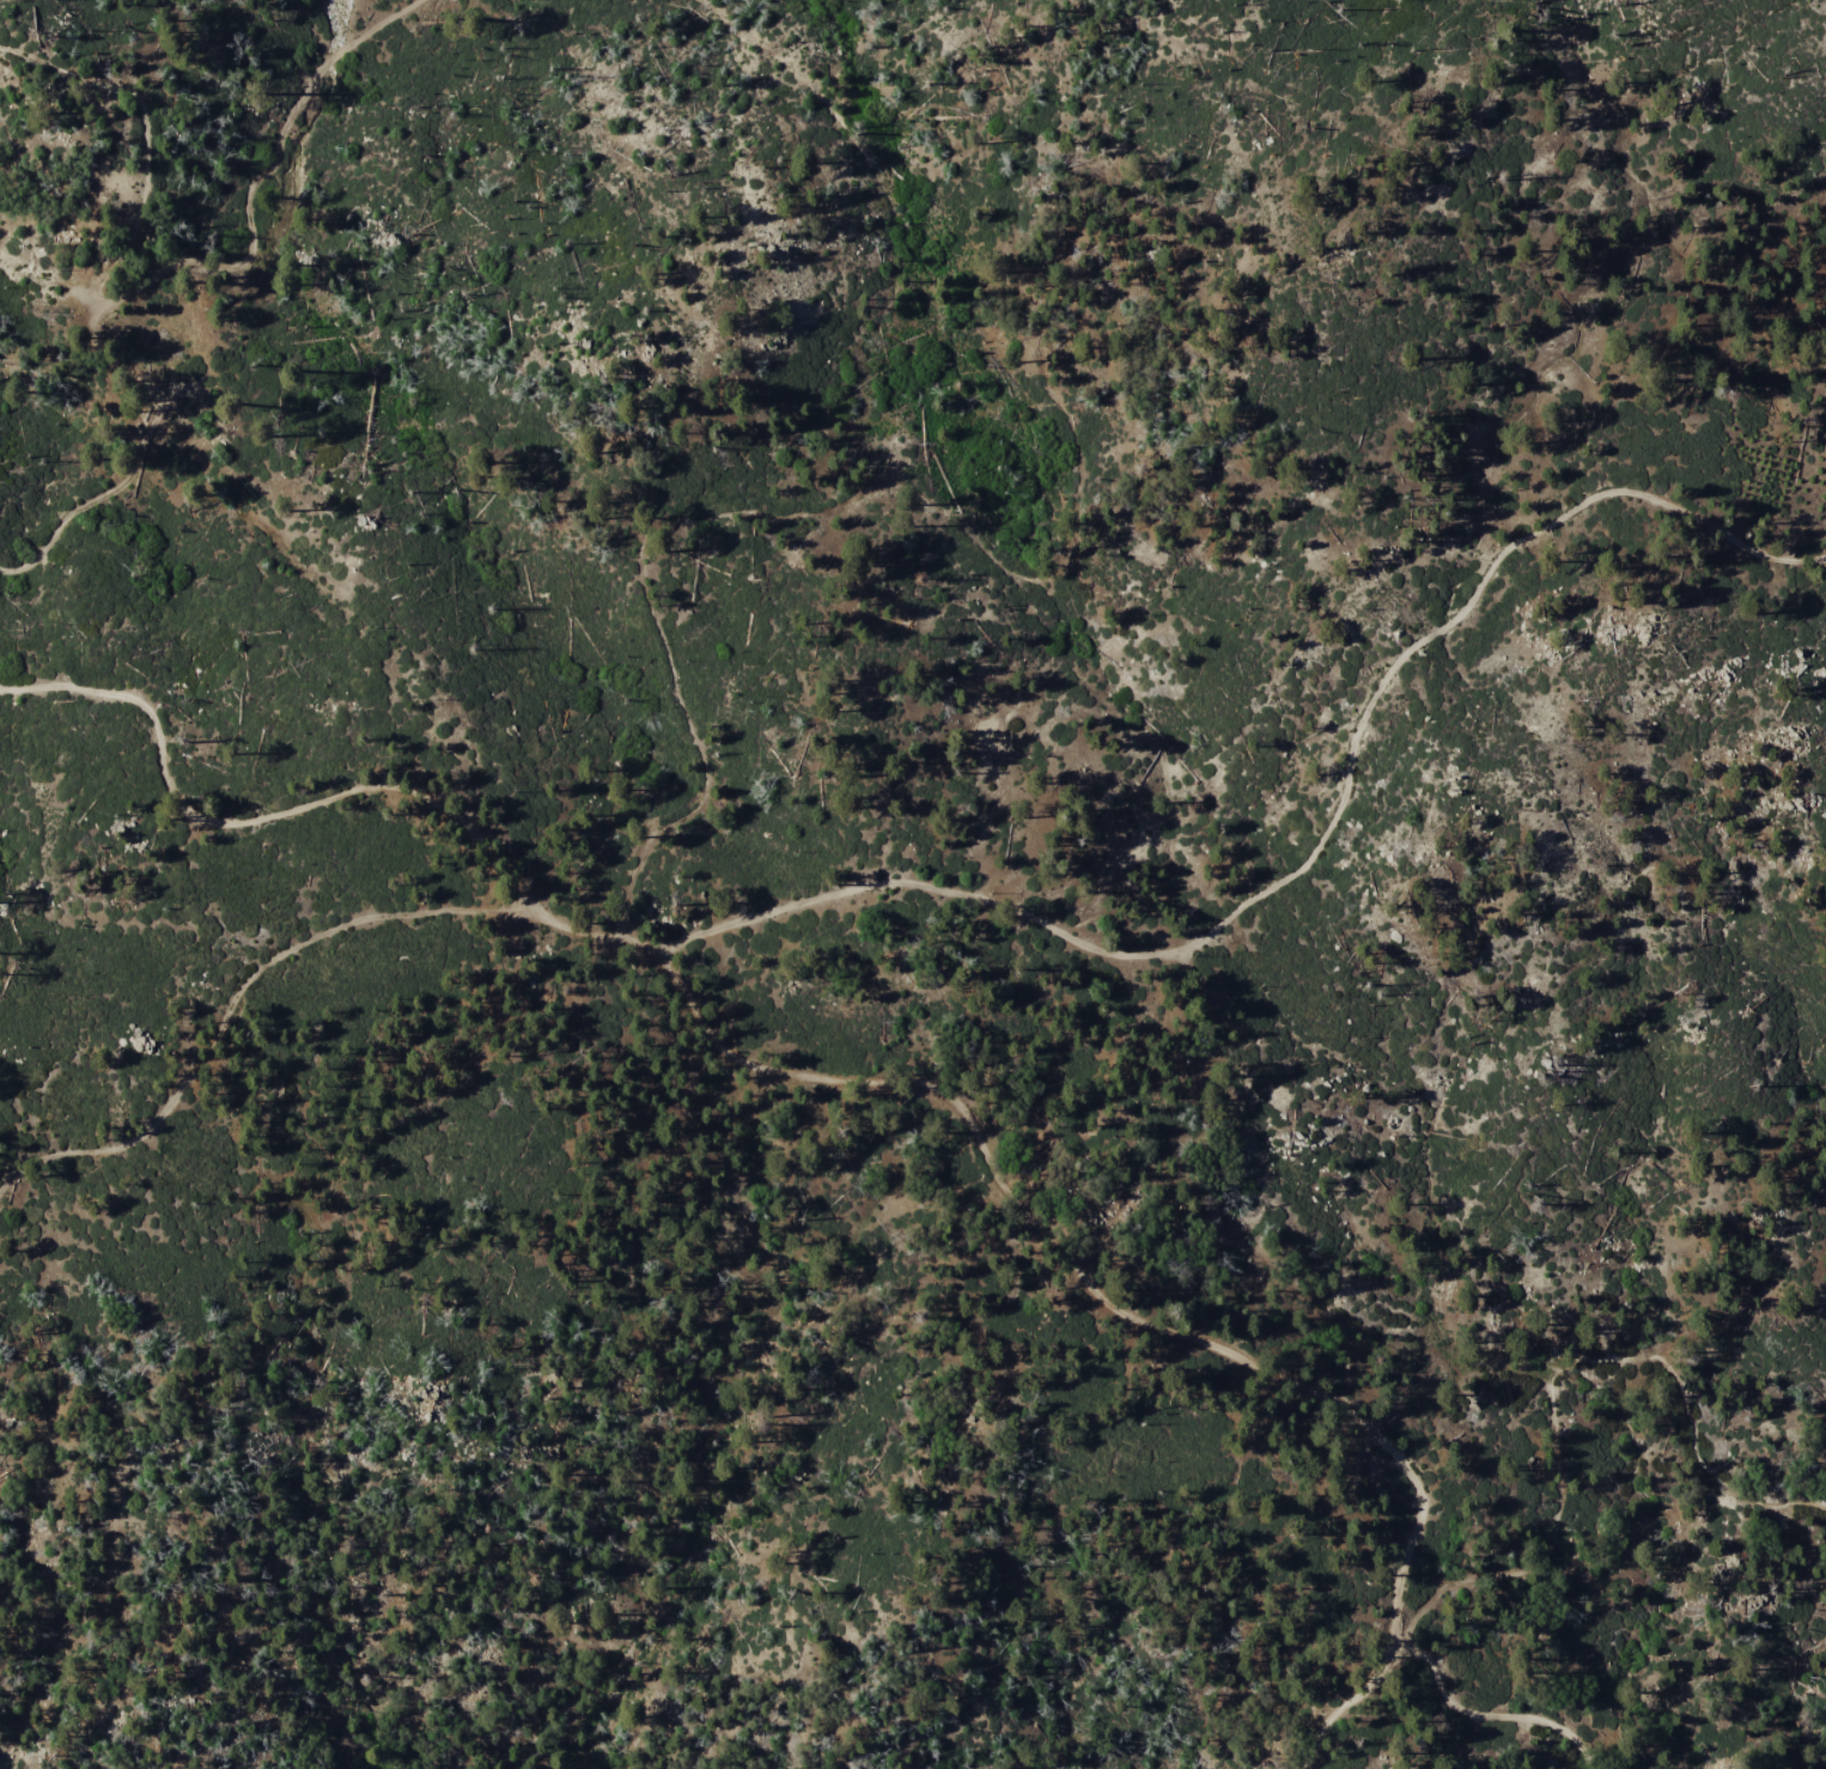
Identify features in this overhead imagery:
road: (164, 270)
road: (750, 516)
road: (1320, 852)
road: (233, 997)
road: (851, 1081)
road: (1551, 1381)
road: (1484, 1719)

